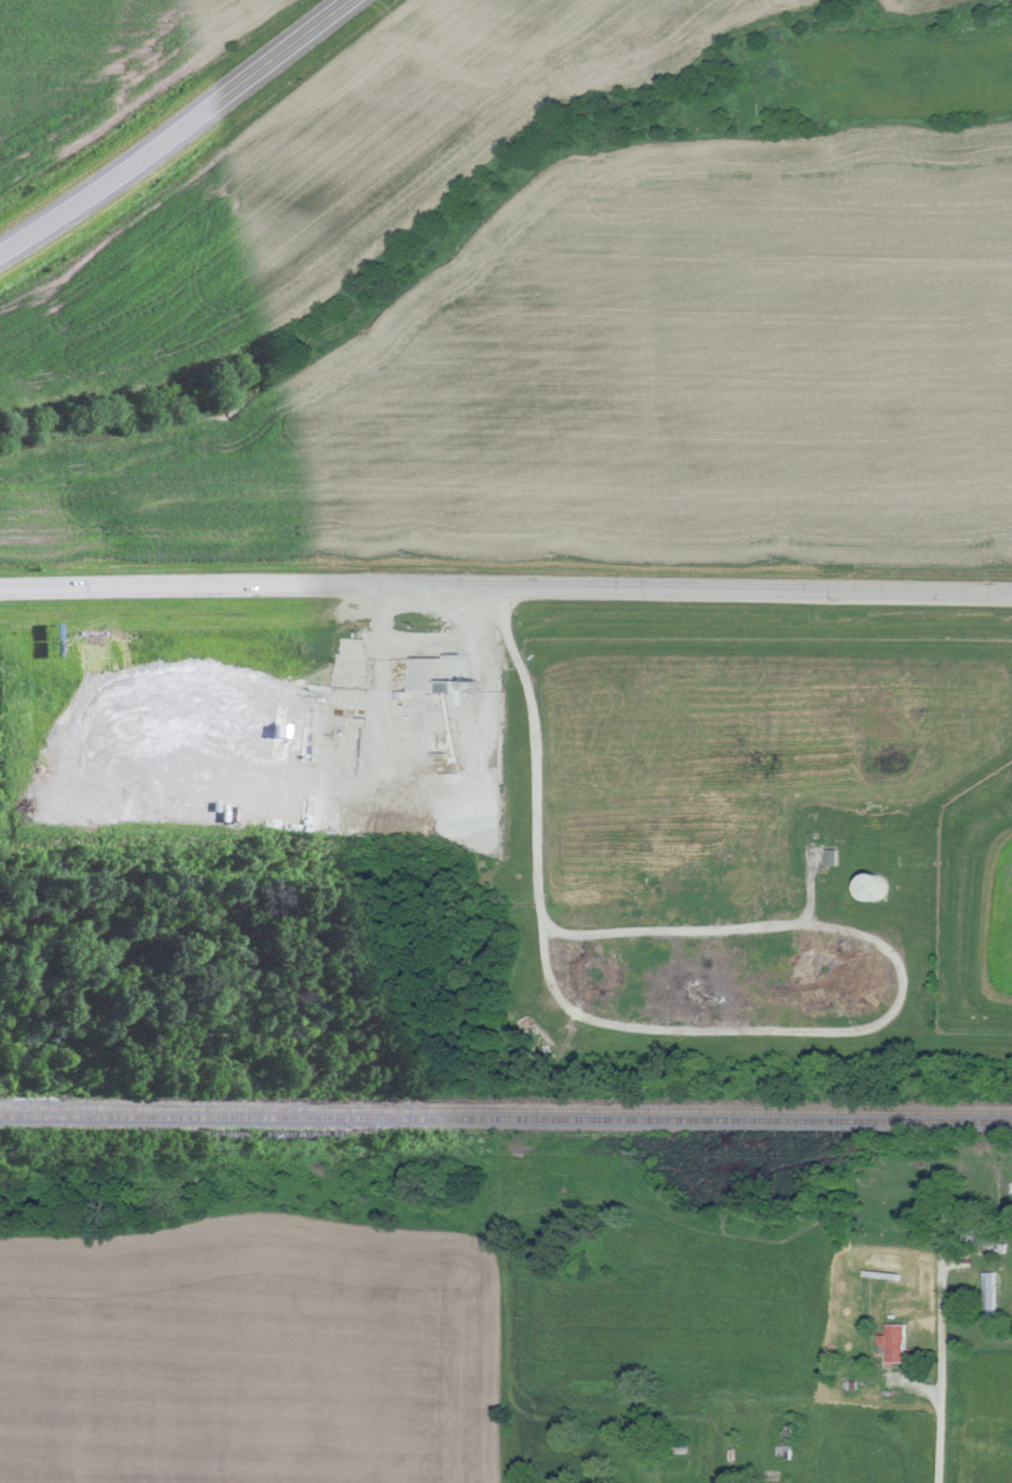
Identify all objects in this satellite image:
road: (177, 129)
road: (506, 588)
building: (443, 676)
building: (834, 857)
building: (880, 887)
road: (815, 917)
railway: (505, 1109)
railway: (505, 1118)
building: (941, 1202)
building: (991, 1296)
building: (896, 1342)
road: (940, 1370)
road: (719, 1463)

